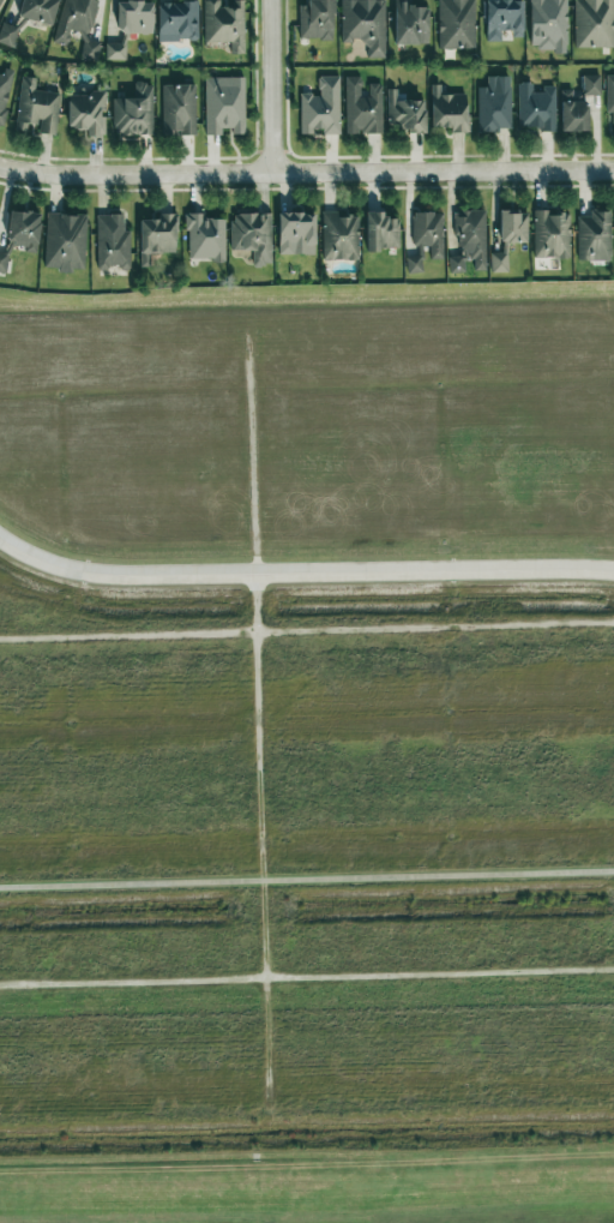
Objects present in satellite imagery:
building: (1, 2)
building: (37, 10)
building: (315, 19)
building: (502, 19)
building: (176, 22)
building: (594, 23)
building: (224, 24)
building: (363, 24)
building: (409, 24)
building: (456, 24)
building: (78, 25)
building: (547, 25)
building: (130, 26)
building: (7, 34)
building: (590, 85)
road: (270, 86)
building: (5, 90)
building: (609, 97)
building: (224, 104)
building: (362, 107)
building: (535, 107)
building: (36, 108)
building: (321, 108)
building: (493, 108)
building: (177, 109)
building: (447, 110)
building: (133, 112)
building: (405, 112)
building: (86, 113)
building: (572, 113)
road: (306, 172)
building: (23, 229)
building: (381, 232)
building: (295, 233)
building: (552, 234)
building: (252, 235)
building: (339, 236)
building: (508, 236)
building: (594, 236)
building: (156, 238)
building: (205, 238)
building: (426, 239)
building: (65, 241)
building: (469, 241)
building: (112, 242)
building: (2, 260)
road: (302, 570)
road: (307, 630)
road: (259, 712)
road: (306, 877)
road: (306, 975)

